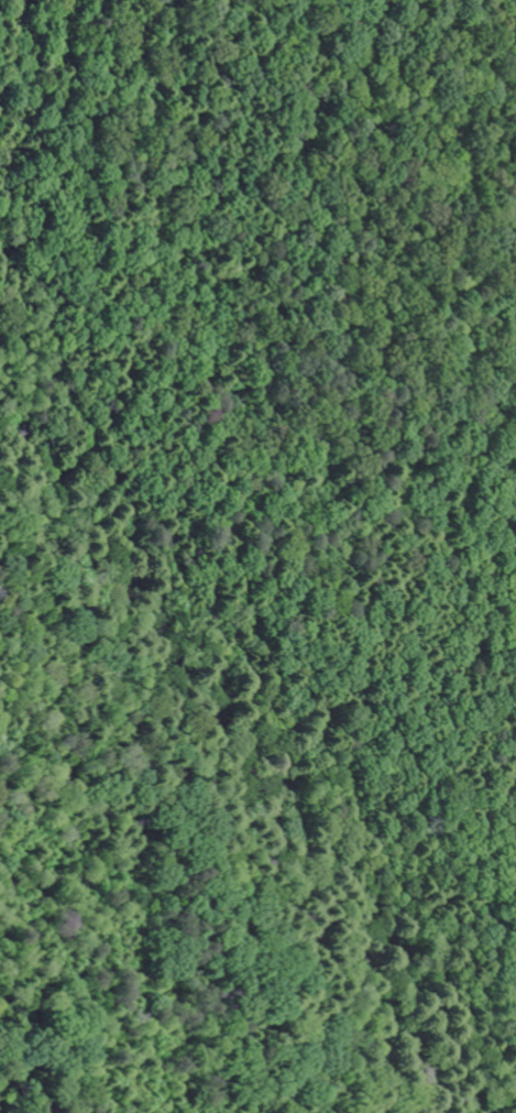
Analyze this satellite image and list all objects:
road: (45, 86)
road: (88, 816)

